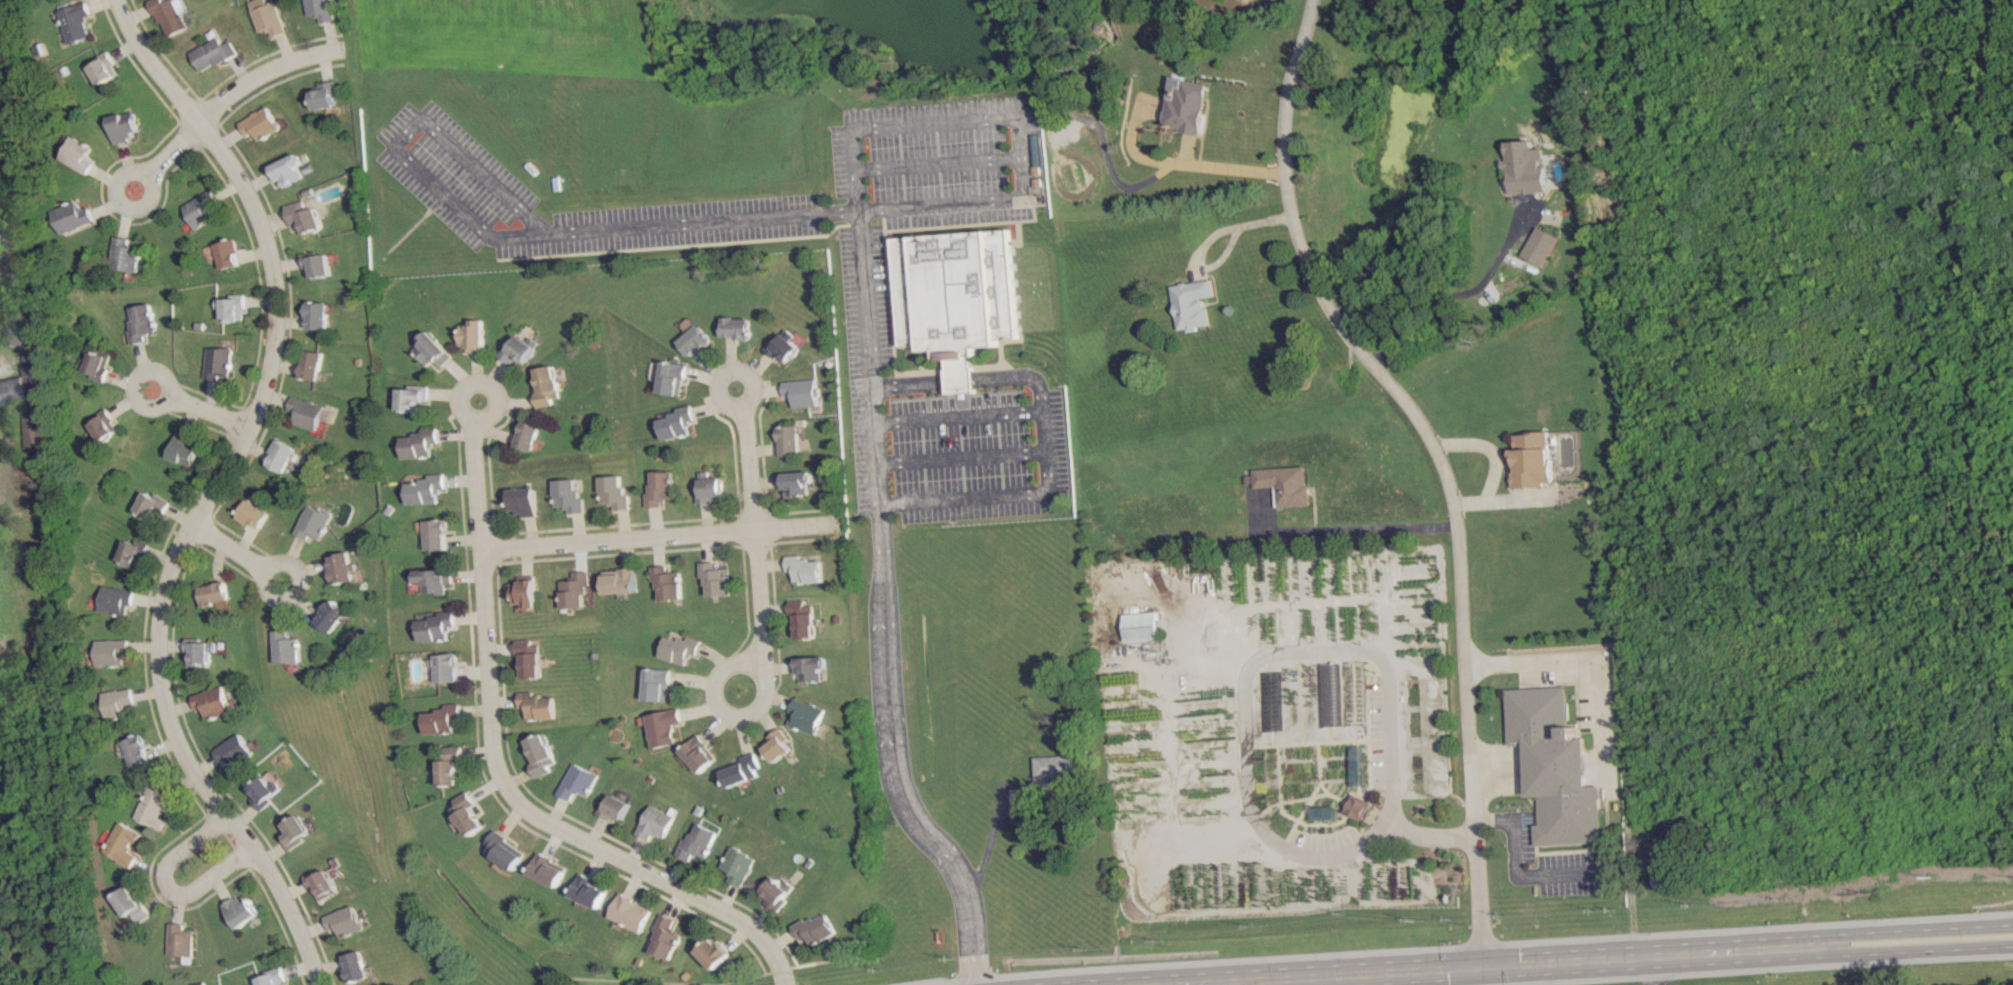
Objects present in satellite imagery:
building: (322, 9)
building: (171, 15)
building: (269, 16)
building: (74, 21)
crop: (506, 37)
building: (214, 54)
road: (150, 64)
building: (103, 68)
road: (233, 93)
building: (326, 94)
building: (1186, 104)
road: (1013, 116)
building: (262, 123)
building: (124, 126)
building: (77, 154)
road: (938, 161)
building: (1525, 167)
building: (288, 170)
road: (121, 202)
building: (203, 208)
building: (72, 216)
building: (305, 216)
road: (508, 234)
building: (1539, 245)
building: (226, 253)
road: (1223, 253)
building: (125, 255)
building: (318, 264)
building: (956, 289)
road: (1455, 294)
building: (1191, 303)
building: (234, 307)
building: (320, 315)
building: (140, 322)
road: (276, 324)
building: (736, 327)
building: (19, 330)
building: (473, 335)
building: (693, 340)
building: (783, 345)
building: (432, 348)
building: (515, 349)
building: (220, 362)
building: (94, 364)
building: (315, 364)
road: (728, 368)
building: (671, 377)
building: (22, 379)
road: (959, 379)
road: (134, 380)
road: (477, 383)
road: (908, 383)
building: (544, 386)
building: (802, 392)
building: (414, 397)
road: (210, 411)
building: (310, 412)
road: (956, 417)
building: (674, 422)
building: (102, 424)
building: (525, 435)
building: (791, 440)
building: (421, 443)
building: (185, 448)
building: (285, 456)
road: (959, 456)
road: (1437, 459)
building: (1529, 459)
building: (796, 482)
road: (1041, 483)
building: (1283, 484)
building: (707, 487)
building: (658, 488)
building: (426, 489)
building: (612, 492)
building: (566, 495)
building: (520, 501)
building: (149, 505)
building: (256, 512)
building: (316, 522)
road: (796, 526)
road: (1389, 527)
road: (476, 528)
road: (756, 532)
building: (436, 534)
road: (617, 540)
road: (230, 548)
building: (129, 552)
building: (344, 567)
building: (804, 569)
building: (714, 578)
building: (435, 580)
building: (619, 580)
building: (666, 582)
road: (299, 590)
building: (574, 591)
building: (524, 593)
building: (216, 595)
building: (113, 600)
road: (886, 607)
building: (334, 615)
building: (803, 618)
building: (1140, 626)
building: (437, 627)
building: (289, 647)
building: (676, 648)
building: (110, 651)
building: (199, 651)
building: (528, 657)
road: (1587, 660)
building: (446, 667)
building: (811, 668)
building: (654, 684)
road: (159, 698)
building: (116, 701)
building: (213, 702)
building: (539, 705)
road: (719, 709)
building: (807, 716)
building: (445, 719)
building: (661, 726)
building: (779, 745)
building: (135, 750)
building: (233, 750)
building: (700, 753)
building: (541, 754)
building: (1358, 764)
building: (1058, 765)
building: (452, 766)
building: (1557, 768)
building: (743, 770)
building: (577, 781)
building: (265, 791)
road: (1392, 791)
building: (614, 807)
building: (1357, 807)
building: (151, 808)
building: (469, 813)
building: (656, 822)
building: (298, 831)
road: (197, 838)
building: (699, 841)
building: (120, 843)
road: (589, 844)
building: (507, 850)
building: (739, 865)
road: (1516, 868)
road: (220, 869)
building: (550, 869)
building: (1663, 877)
road: (164, 882)
building: (325, 885)
building: (591, 890)
building: (776, 891)
building: (127, 904)
building: (240, 910)
building: (631, 912)
road: (292, 913)
building: (346, 920)
building: (815, 929)
building: (666, 937)
building: (177, 940)
building: (714, 952)
road: (1584, 959)
building: (355, 965)
traffic signals: (1483, 965)
road: (1656, 970)
building: (271, 977)
road: (1230, 983)

